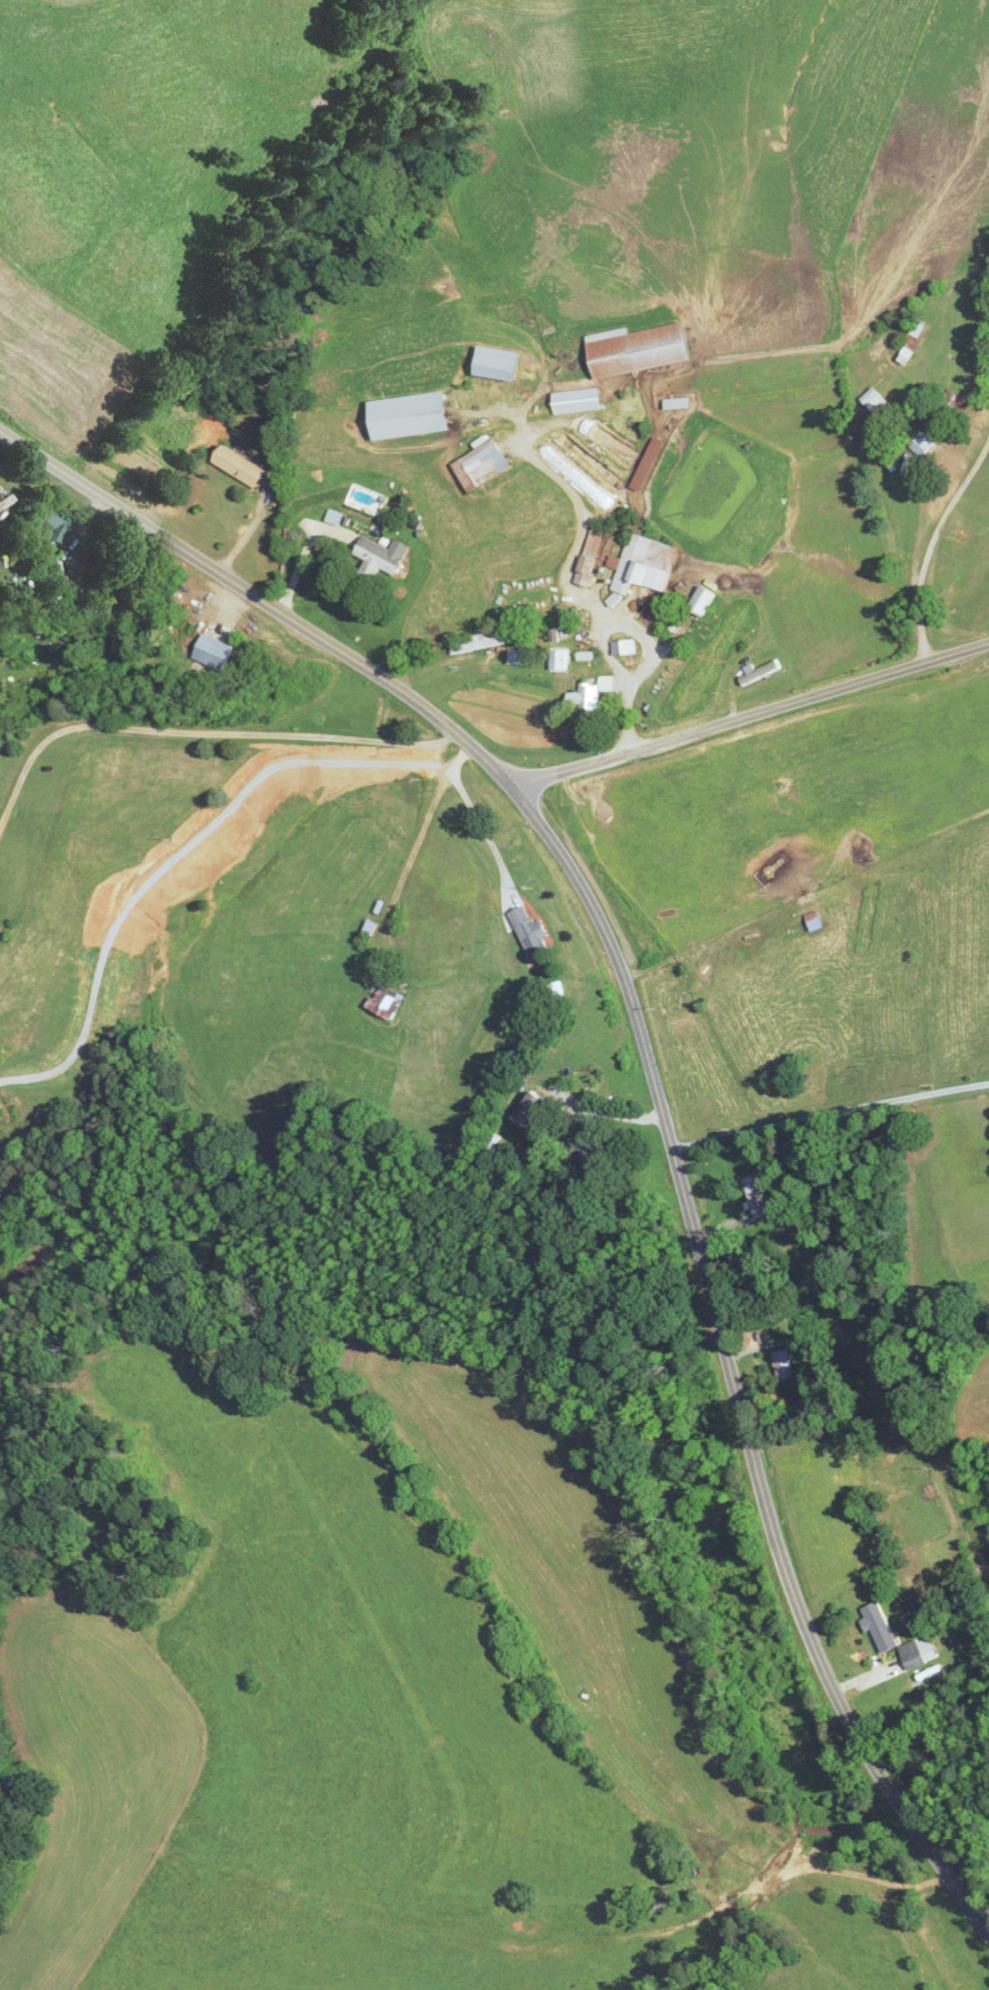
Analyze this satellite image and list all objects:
building: (638, 349)
building: (498, 364)
building: (876, 399)
building: (578, 401)
building: (958, 410)
building: (413, 415)
building: (922, 444)
building: (483, 465)
building: (241, 466)
building: (55, 525)
road: (930, 544)
building: (592, 556)
building: (384, 557)
building: (644, 565)
road: (565, 583)
building: (705, 601)
building: (625, 648)
building: (216, 652)
building: (522, 656)
building: (759, 676)
building: (596, 695)
road: (750, 719)
road: (200, 730)
road: (475, 818)
road: (174, 849)
building: (817, 922)
building: (534, 931)
building: (432, 947)
building: (387, 1001)
road: (649, 1068)
building: (536, 1108)
road: (612, 1113)
road: (829, 1113)
building: (594, 1156)
building: (756, 1196)
building: (787, 1364)
building: (894, 1636)

